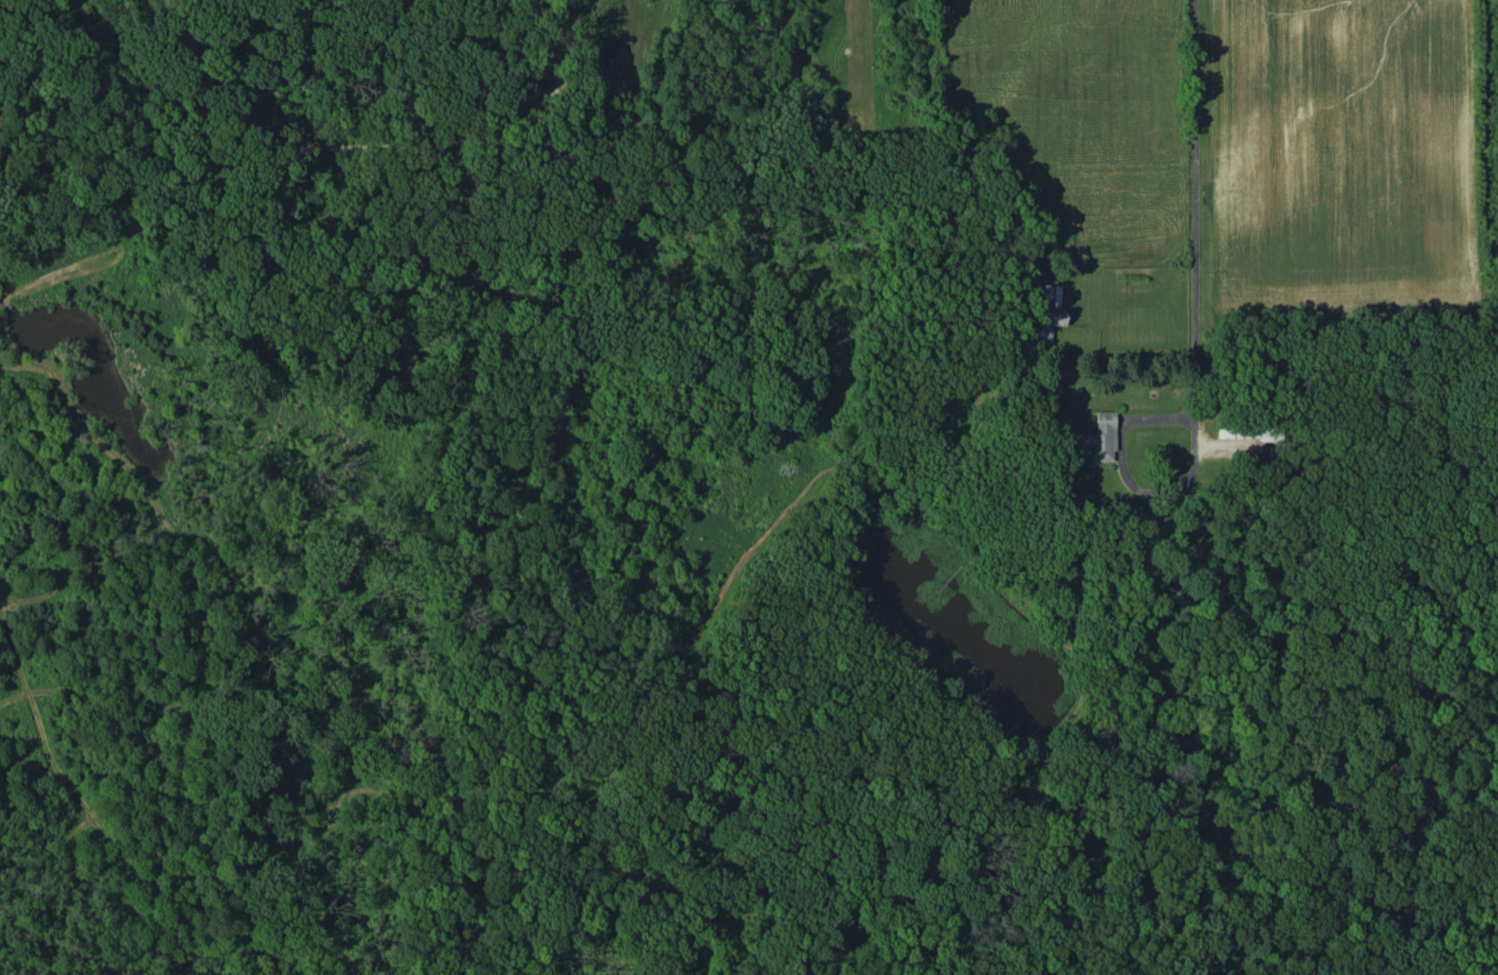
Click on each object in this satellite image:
road: (1192, 223)
building: (1048, 312)
building: (1100, 438)

